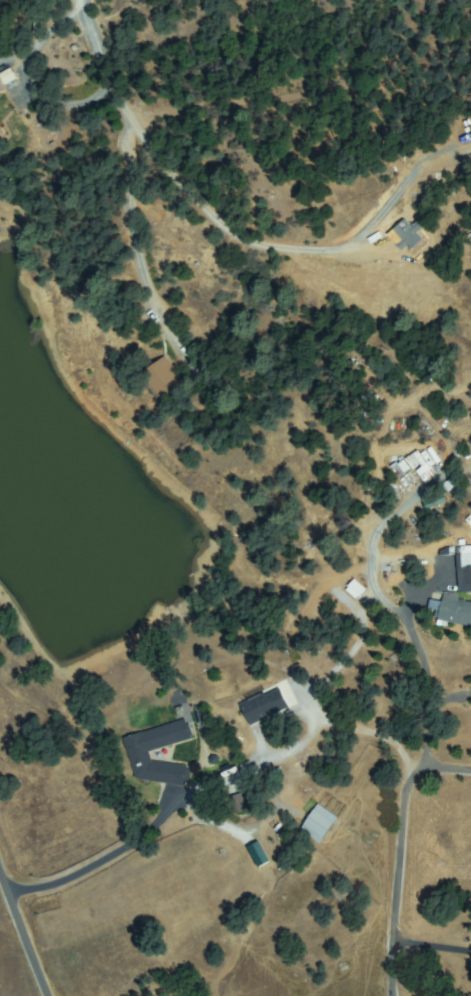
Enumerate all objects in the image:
road: (280, 71)
building: (7, 81)
building: (1, 88)
road: (102, 90)
building: (1, 92)
building: (408, 235)
building: (196, 367)
building: (163, 378)
building: (420, 460)
building: (397, 467)
building: (431, 499)
building: (464, 565)
building: (353, 588)
building: (453, 611)
building: (331, 668)
building: (264, 707)
building: (139, 755)
building: (239, 803)
road: (170, 819)
building: (318, 824)
road: (395, 856)
building: (340, 891)
road: (23, 936)
road: (430, 946)

